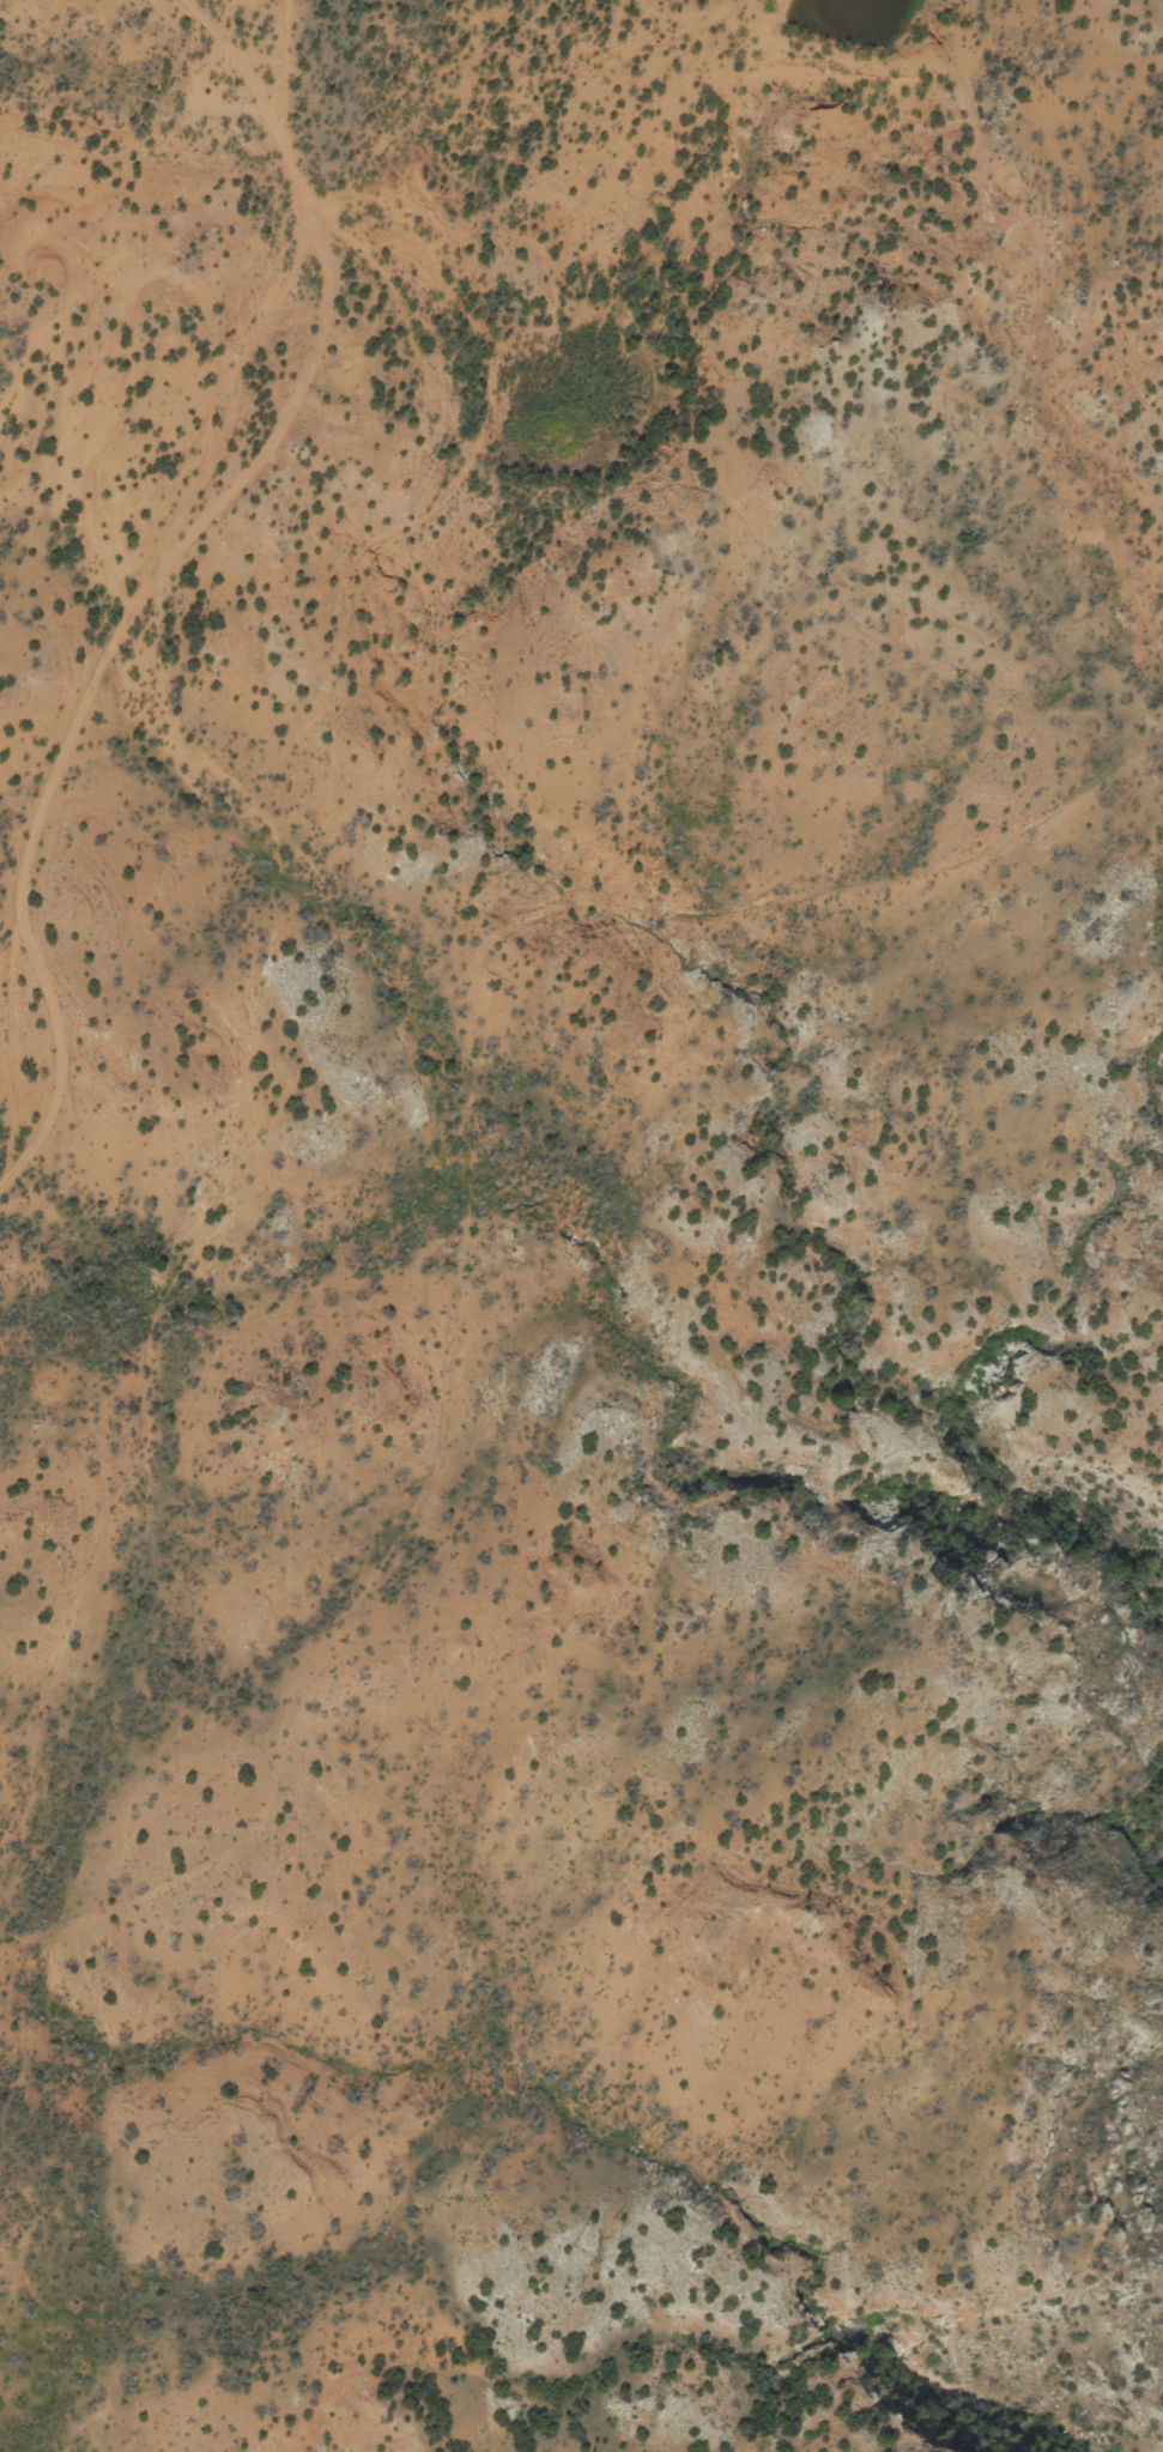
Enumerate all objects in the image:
road: (164, 236)
road: (272, 509)

